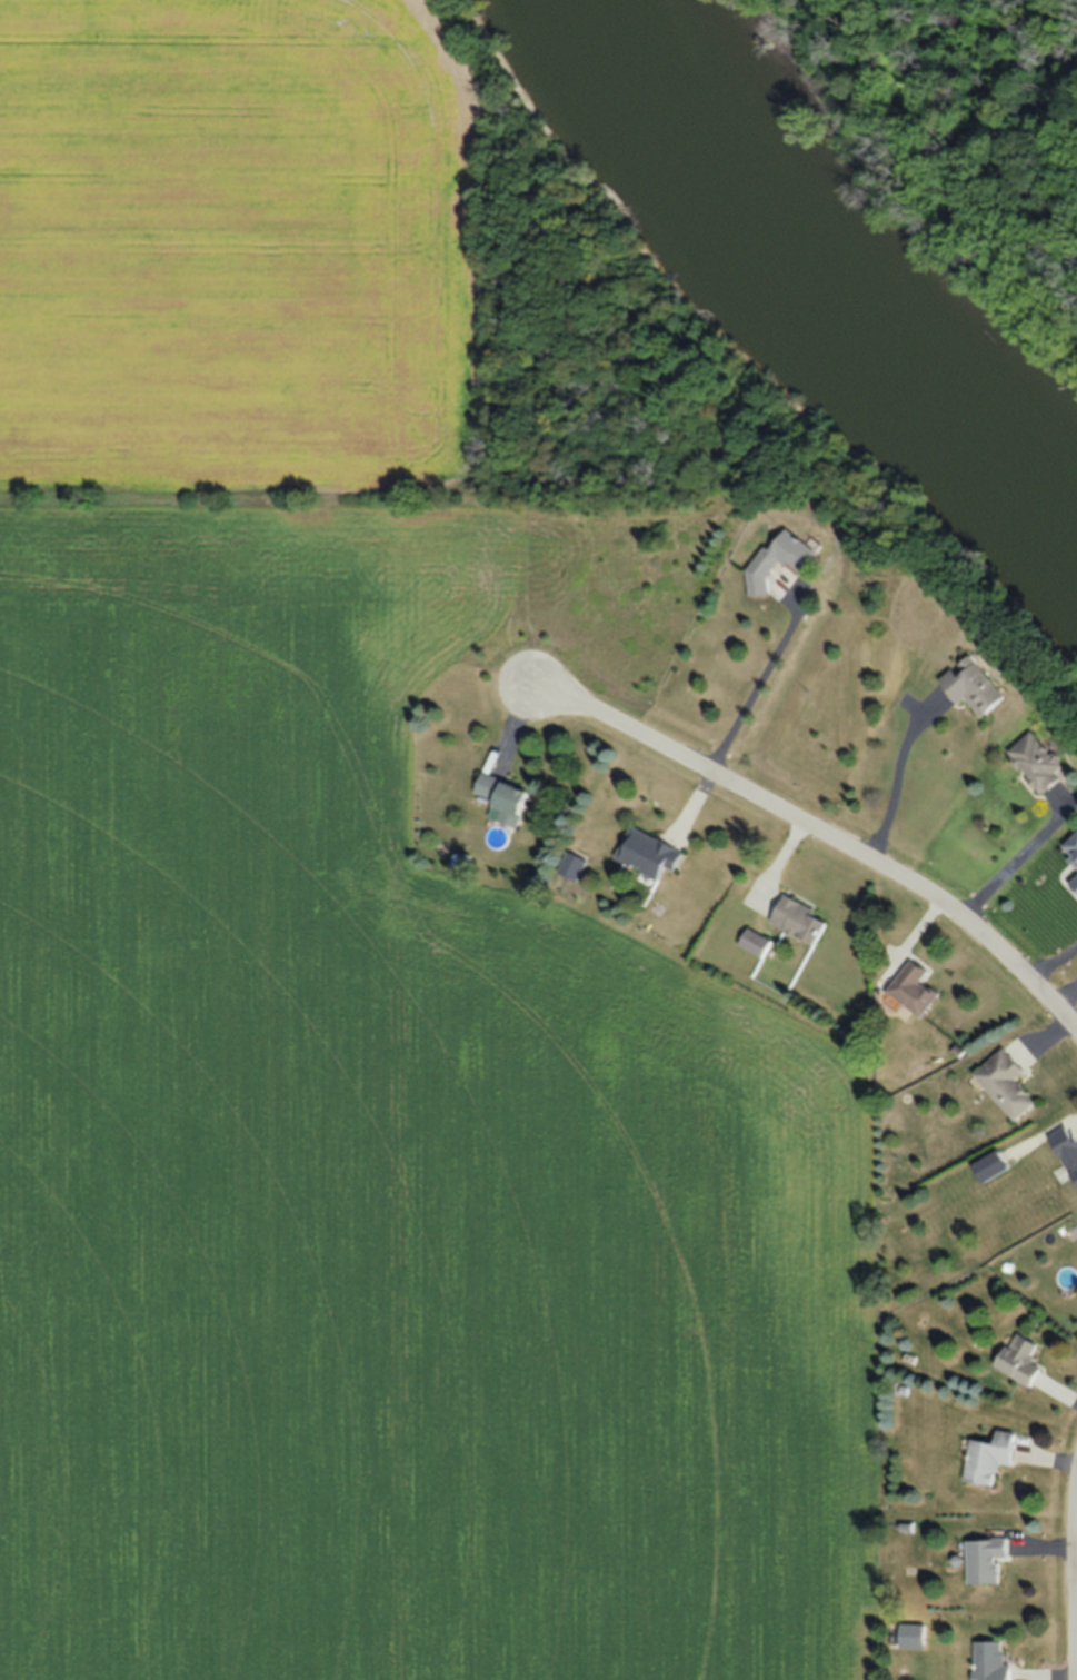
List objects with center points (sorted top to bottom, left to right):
river: (811, 292)
building: (779, 561)
building: (971, 687)
road: (754, 689)
building: (1035, 763)
building: (503, 798)
road: (819, 839)
building: (1073, 848)
building: (647, 853)
building: (1075, 883)
building: (798, 921)
building: (754, 943)
building: (911, 991)
building: (1004, 1084)
building: (1065, 1149)
building: (1018, 1359)
building: (988, 1458)
building: (984, 1560)
building: (911, 1636)
building: (989, 1661)

